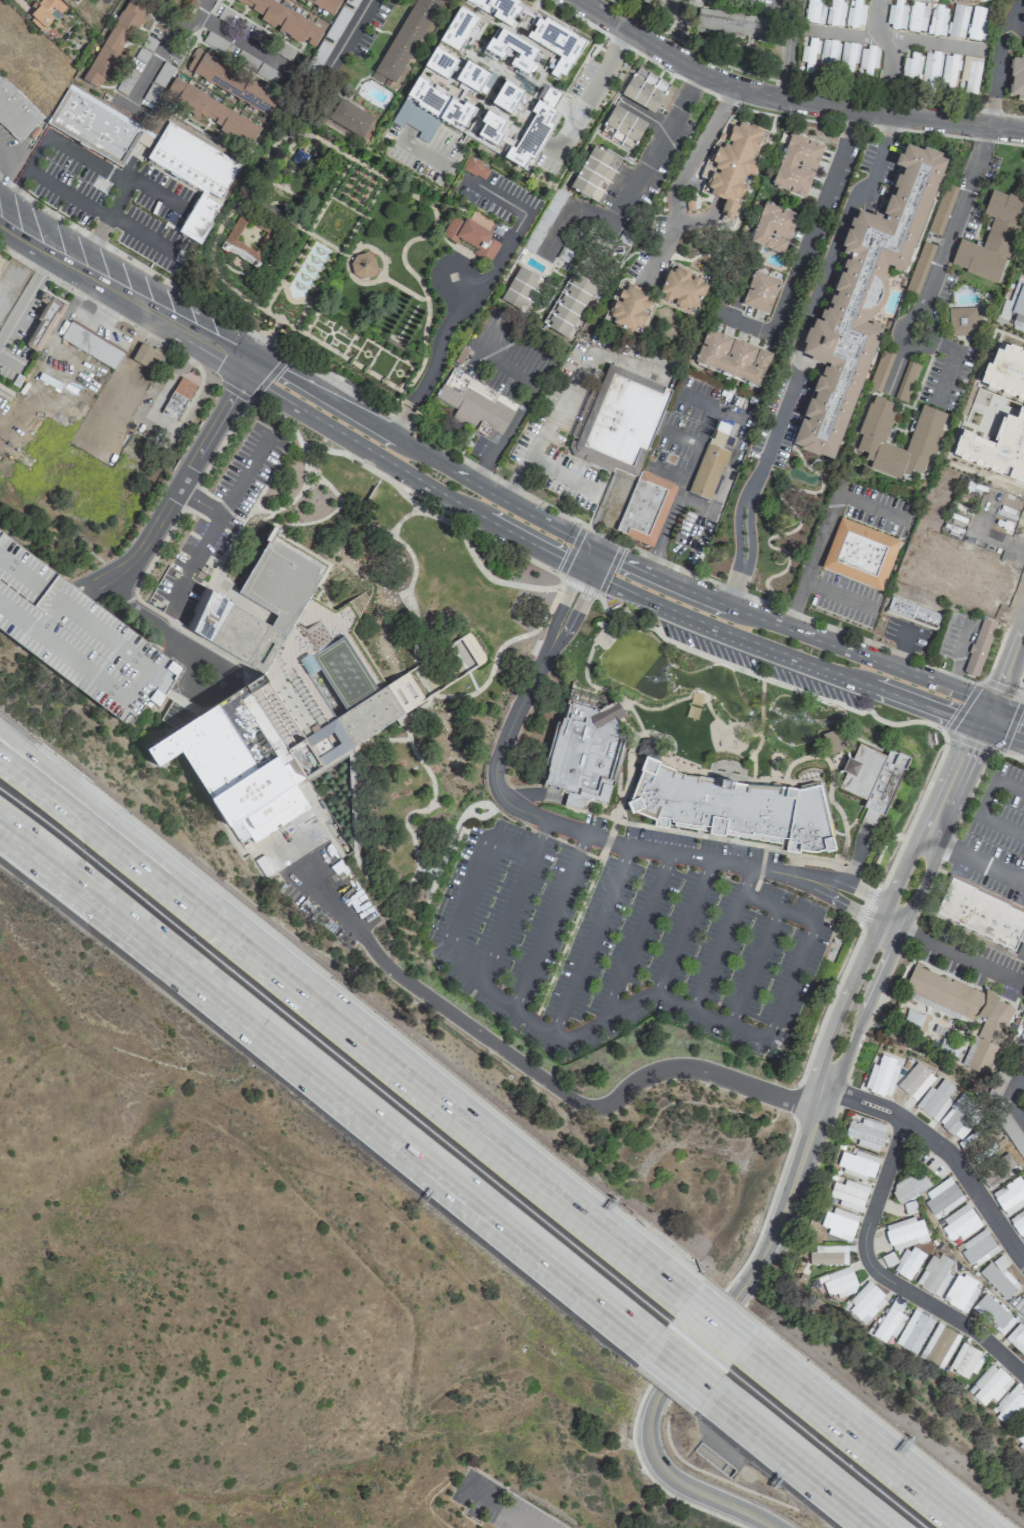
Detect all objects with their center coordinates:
building: (649, 0)
building: (985, 0)
building: (75, 1)
building: (326, 4)
building: (814, 11)
building: (835, 12)
building: (44, 13)
building: (854, 13)
building: (896, 15)
building: (917, 17)
building: (285, 20)
building: (938, 20)
building: (958, 21)
building: (977, 25)
building: (730, 26)
building: (458, 29)
road: (351, 32)
building: (537, 33)
road: (892, 38)
building: (407, 41)
road: (164, 42)
building: (114, 43)
road: (782, 47)
building: (512, 50)
building: (828, 52)
road: (887, 54)
building: (808, 55)
building: (847, 59)
road: (998, 61)
building: (440, 63)
building: (911, 68)
building: (969, 75)
building: (1017, 77)
building: (474, 79)
building: (231, 82)
road: (589, 91)
building: (642, 93)
building: (507, 98)
road: (791, 98)
building: (16, 111)
building: (430, 111)
building: (211, 112)
building: (347, 117)
road: (888, 124)
building: (97, 125)
building: (622, 128)
building: (37, 129)
road: (314, 137)
road: (310, 144)
road: (287, 147)
building: (301, 157)
road: (878, 160)
road: (7, 162)
building: (194, 162)
building: (737, 163)
building: (799, 165)
building: (475, 168)
road: (23, 172)
building: (595, 175)
road: (684, 175)
road: (111, 177)
road: (341, 177)
road: (634, 185)
road: (254, 192)
parking lot: (106, 196)
road: (374, 197)
parking lot: (499, 197)
road: (347, 205)
road: (464, 205)
building: (1004, 206)
road: (451, 209)
road: (518, 209)
building: (942, 209)
road: (955, 220)
road: (100, 221)
building: (775, 228)
road: (304, 229)
building: (472, 237)
road: (807, 237)
building: (249, 238)
road: (214, 242)
road: (354, 250)
building: (986, 252)
road: (828, 258)
building: (1, 260)
building: (531, 265)
building: (363, 266)
building: (921, 267)
building: (682, 287)
road: (123, 288)
building: (520, 288)
road: (403, 289)
road: (460, 289)
road: (26, 290)
building: (761, 293)
building: (862, 295)
road: (288, 298)
building: (1015, 303)
building: (570, 306)
building: (633, 306)
road: (109, 313)
road: (332, 316)
road: (331, 319)
building: (963, 321)
building: (44, 322)
road: (338, 323)
road: (325, 325)
road: (342, 329)
road: (337, 332)
road: (317, 334)
road: (352, 334)
road: (441, 336)
road: (479, 336)
road: (320, 337)
road: (899, 340)
road: (327, 341)
road: (332, 343)
road: (514, 344)
building: (91, 346)
road: (944, 346)
road: (356, 349)
road: (360, 349)
road: (406, 349)
road: (343, 350)
road: (368, 352)
road: (791, 352)
road: (373, 353)
building: (146, 355)
road: (393, 355)
building: (733, 358)
road: (5, 360)
traffic signals: (249, 362)
road: (368, 362)
road: (306, 364)
road: (504, 364)
road: (391, 369)
road: (394, 369)
road: (400, 370)
building: (881, 371)
building: (1007, 371)
road: (539, 372)
road: (396, 374)
road: (403, 375)
road: (579, 375)
road: (267, 376)
road: (378, 377)
road: (946, 378)
building: (908, 381)
road: (233, 390)
road: (250, 397)
building: (177, 398)
building: (475, 400)
road: (779, 419)
building: (618, 421)
building: (875, 428)
road: (503, 433)
road: (680, 439)
building: (997, 447)
road: (342, 452)
road: (419, 452)
road: (694, 454)
road: (731, 457)
road: (801, 462)
road: (810, 462)
road: (407, 472)
building: (709, 472)
road: (671, 473)
road: (560, 476)
road: (816, 476)
road: (312, 481)
road: (515, 481)
road: (176, 486)
road: (199, 501)
road: (228, 506)
road: (335, 507)
building: (645, 508)
road: (873, 508)
road: (399, 518)
road: (667, 520)
parking lot: (216, 524)
road: (741, 530)
road: (783, 532)
road: (467, 546)
road: (570, 549)
road: (597, 550)
building: (860, 555)
road: (584, 556)
traffic signals: (561, 557)
traffic signals: (621, 562)
road: (600, 563)
road: (812, 563)
road: (588, 569)
road: (609, 570)
road: (560, 576)
road: (579, 587)
traffic signals: (586, 595)
road: (838, 597)
road: (729, 598)
road: (557, 613)
building: (913, 613)
road: (799, 617)
road: (572, 620)
road: (154, 627)
road: (796, 633)
building: (77, 634)
parking lot: (77, 634)
road: (963, 644)
building: (980, 647)
road: (900, 649)
road: (787, 655)
park: (415, 656)
parking lot: (757, 662)
road: (1006, 664)
road: (417, 674)
road: (954, 674)
road: (1019, 683)
road: (761, 691)
road: (698, 696)
road: (818, 697)
road: (962, 707)
building: (281, 709)
road: (760, 714)
traffic signals: (986, 715)
road: (1004, 722)
road: (1007, 730)
road: (661, 736)
building: (833, 741)
building: (584, 751)
building: (875, 777)
road: (956, 777)
road: (627, 779)
road: (775, 780)
road: (1012, 784)
road: (991, 800)
road: (428, 805)
building: (730, 805)
road: (855, 815)
parking lot: (594, 820)
road: (118, 823)
road: (1003, 829)
road: (453, 831)
road: (544, 834)
road: (688, 834)
road: (607, 839)
road: (624, 844)
parking lot: (703, 844)
road: (353, 849)
road: (108, 850)
road: (841, 851)
road: (794, 852)
road: (975, 861)
road: (759, 870)
road: (434, 873)
road: (753, 889)
road: (921, 901)
road: (513, 902)
road: (776, 908)
road: (866, 909)
building: (982, 914)
road: (547, 921)
road: (682, 927)
road: (636, 934)
road: (567, 936)
road: (721, 938)
road: (589, 941)
parking lot: (620, 945)
road: (956, 956)
road: (753, 967)
road: (791, 984)
building: (965, 1012)
road: (824, 1014)
road: (525, 1018)
road: (535, 1074)
building: (882, 1075)
road: (324, 1085)
building: (911, 1086)
road: (1009, 1093)
building: (935, 1100)
road: (452, 1116)
building: (960, 1117)
building: (866, 1133)
building: (1013, 1133)
road: (821, 1147)
road: (944, 1151)
road: (794, 1175)
building: (994, 1177)
building: (909, 1187)
building: (848, 1194)
building: (942, 1196)
building: (1010, 1196)
building: (909, 1207)
building: (959, 1222)
building: (839, 1223)
building: (1018, 1223)
building: (905, 1233)
building: (978, 1247)
building: (827, 1254)
building: (907, 1262)
building: (934, 1274)
building: (999, 1277)
road: (880, 1280)
building: (839, 1282)
building: (960, 1292)
building: (1019, 1307)
building: (992, 1313)
building: (889, 1321)
road: (712, 1325)
building: (913, 1332)
building: (1016, 1338)
building: (939, 1346)
building: (965, 1360)
road: (679, 1369)
building: (988, 1384)
building: (1009, 1406)
building: (1020, 1436)
road: (854, 1438)
road: (792, 1462)
road: (428, 1485)
road: (725, 1504)
road: (494, 1506)

